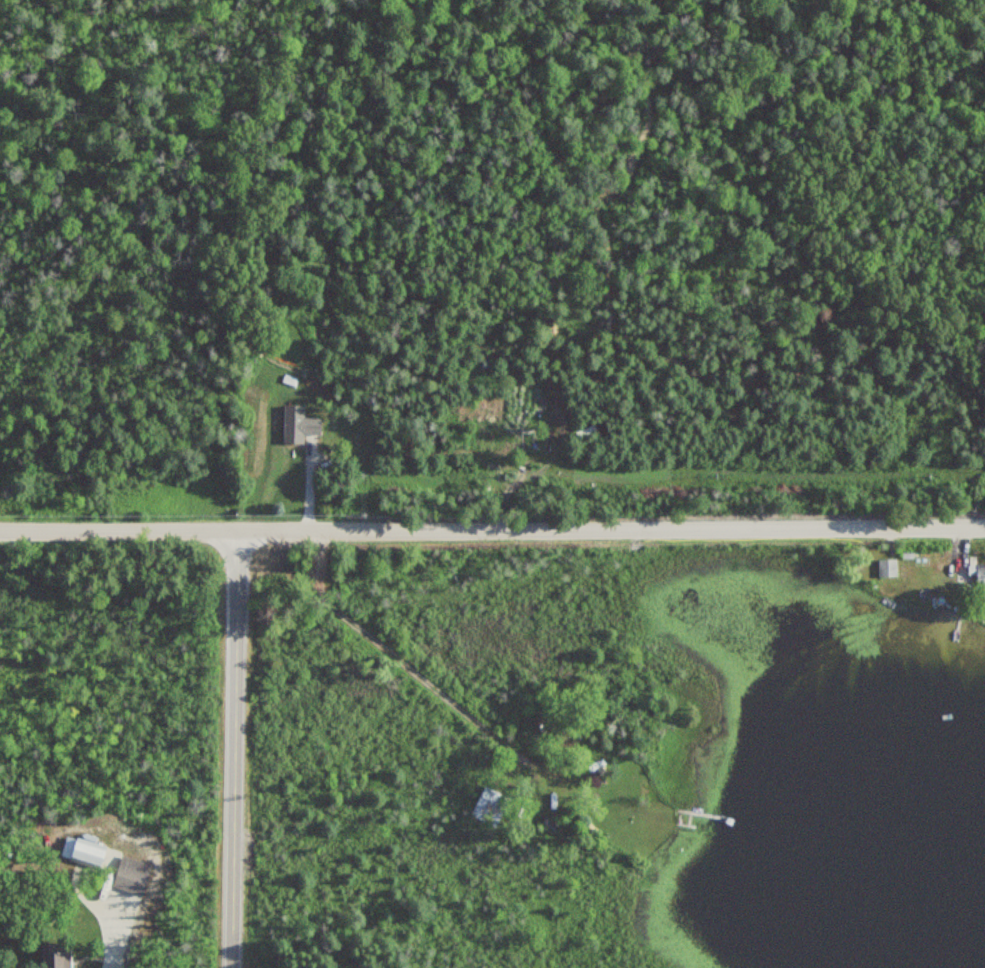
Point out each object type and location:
building: (537, 439)
road: (514, 485)
road: (492, 530)
building: (885, 568)
building: (969, 570)
road: (384, 650)
road: (235, 750)
building: (490, 804)
building: (88, 851)
building: (132, 873)
road: (103, 932)
building: (57, 954)

